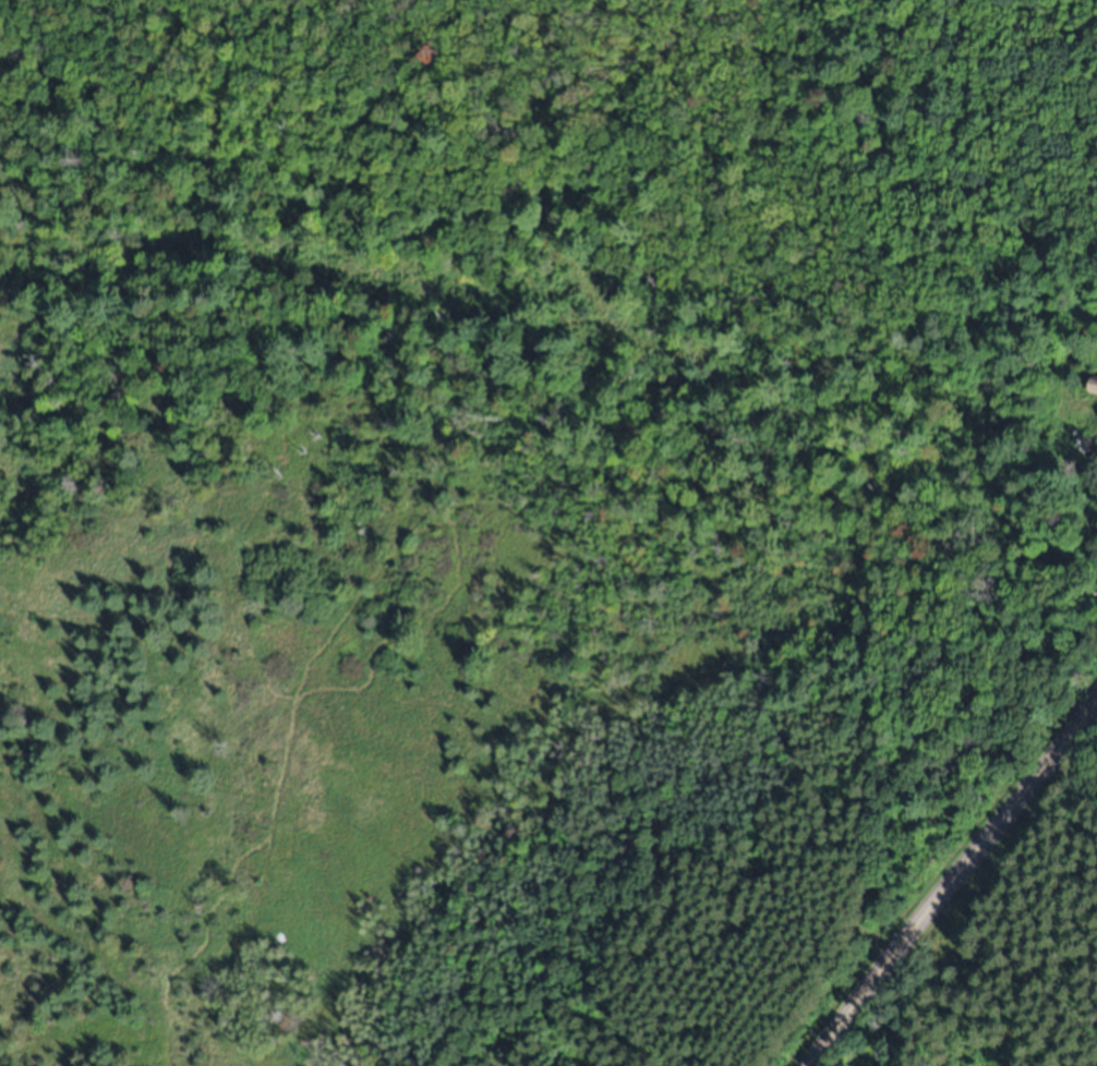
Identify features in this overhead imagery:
building: (1094, 385)
road: (948, 879)

